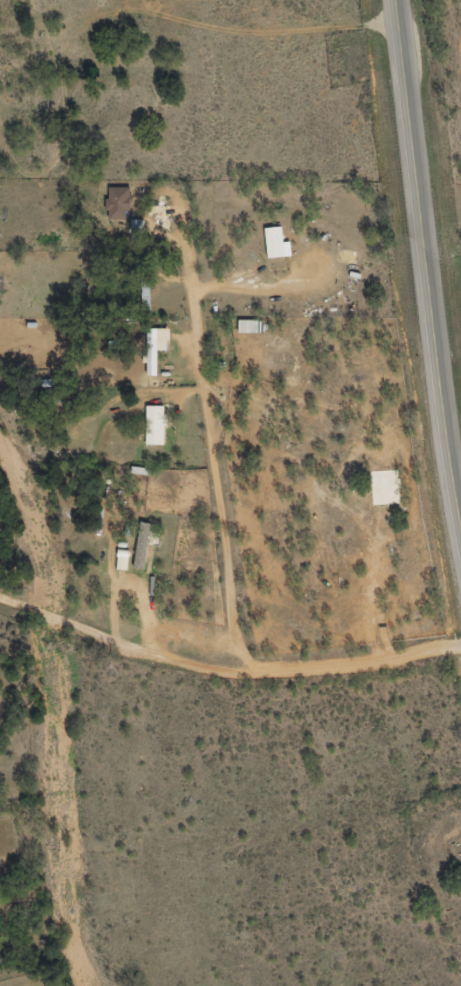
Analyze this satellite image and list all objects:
building: (140, 227)
building: (275, 243)
road: (423, 259)
road: (107, 332)
building: (156, 426)
building: (145, 548)
building: (122, 561)
road: (230, 681)

